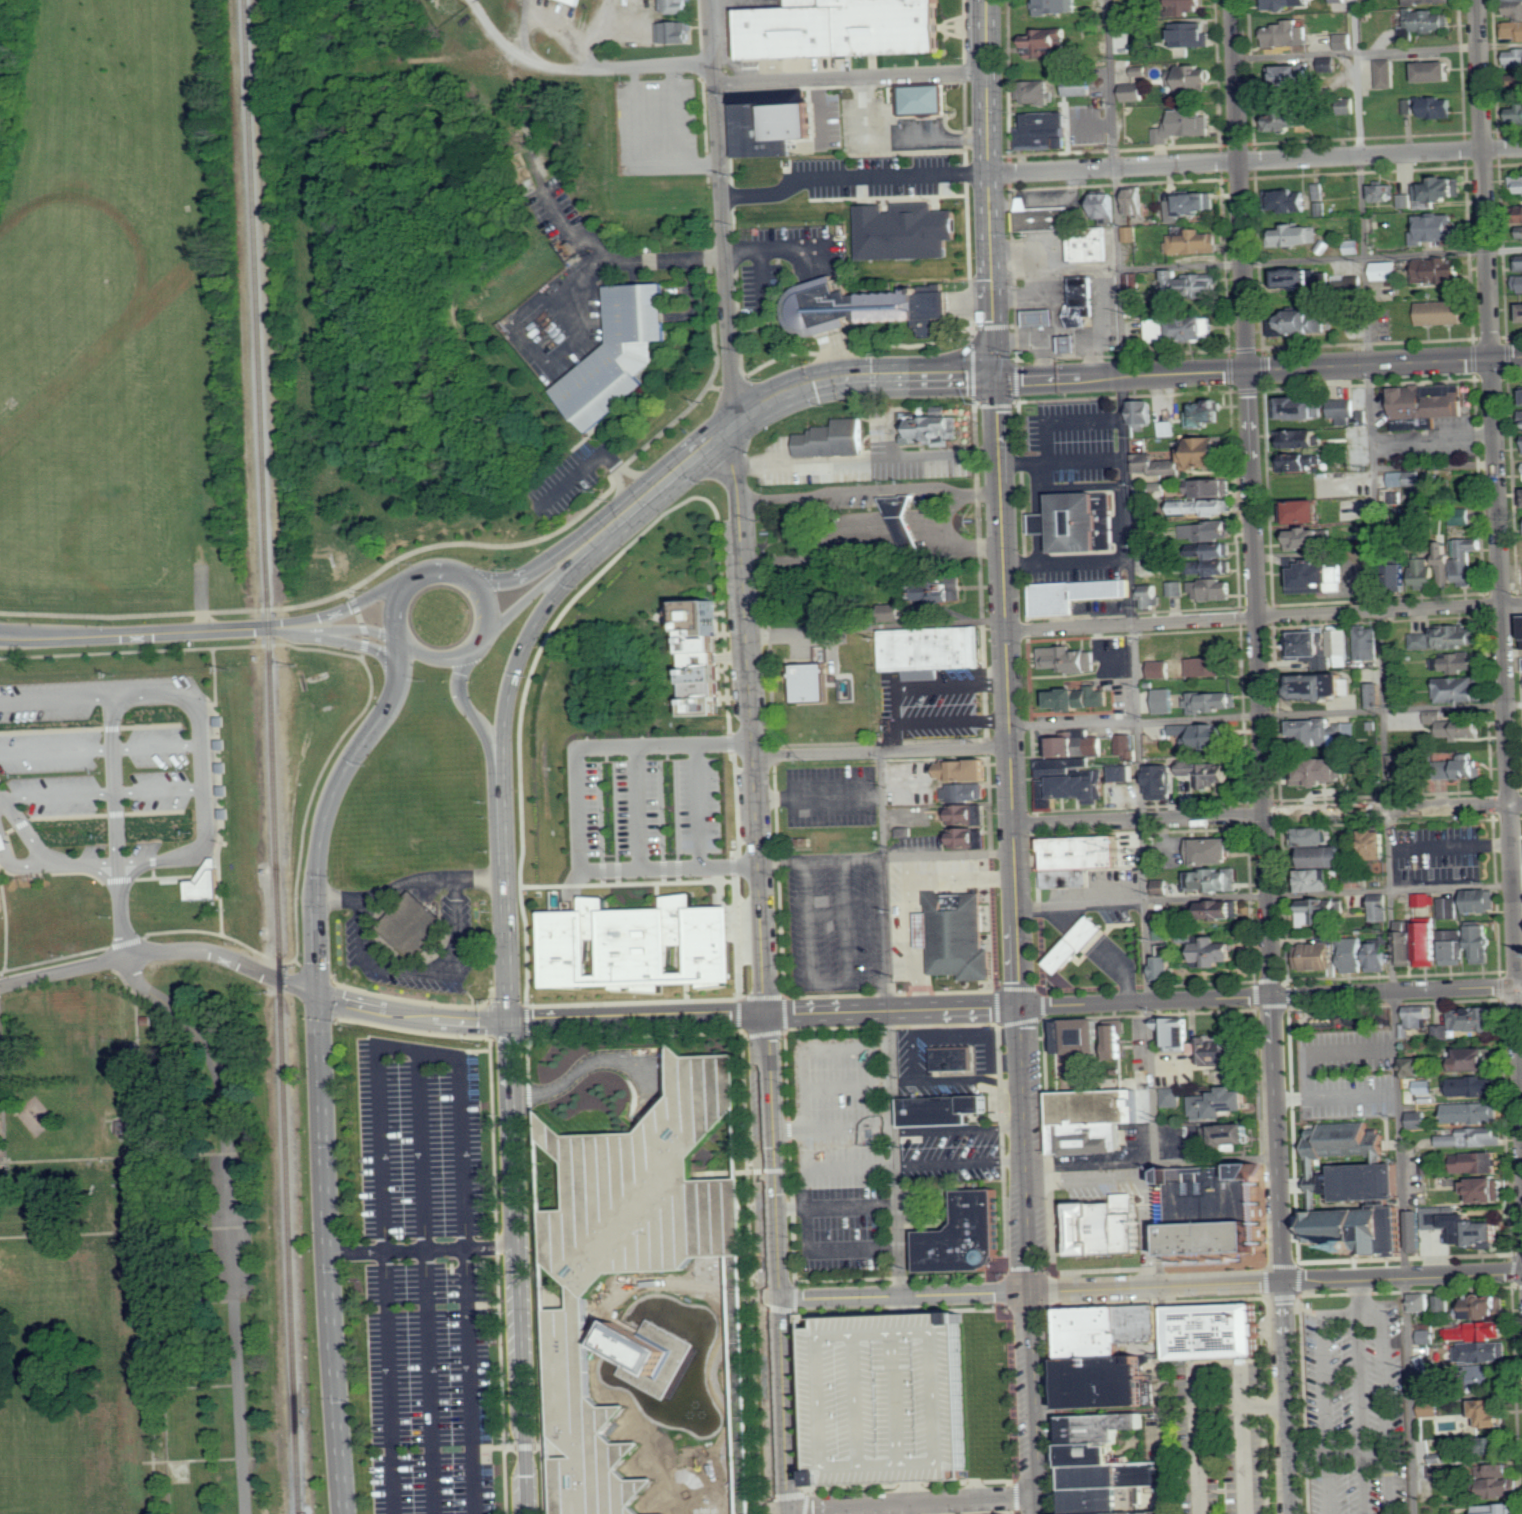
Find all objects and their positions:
building: (1508, 0)
building: (581, 1)
building: (1340, 1)
building: (1428, 1)
building: (1286, 3)
building: (676, 6)
building: (1056, 6)
building: (1187, 6)
building: (1427, 21)
building: (1514, 23)
building: (837, 29)
building: (675, 32)
building: (1192, 33)
building: (1288, 34)
road: (500, 39)
building: (1344, 41)
building: (1047, 42)
road: (1500, 44)
road: (1295, 54)
road: (536, 55)
building: (1514, 57)
road: (617, 65)
building: (1436, 70)
building: (1140, 71)
building: (1388, 73)
road: (852, 76)
building: (1291, 76)
building: (1192, 78)
building: (1518, 81)
building: (1081, 86)
building: (1035, 91)
building: (1135, 92)
building: (920, 98)
building: (1437, 106)
building: (1516, 114)
building: (1289, 119)
building: (783, 122)
building: (1185, 124)
road: (1093, 125)
building: (1044, 129)
road: (899, 139)
road: (1255, 161)
road: (854, 179)
road: (1484, 179)
building: (1518, 183)
road: (989, 190)
building: (1438, 190)
building: (1319, 191)
building: (1385, 191)
building: (1289, 199)
building: (1135, 200)
building: (1406, 200)
building: (1190, 204)
building: (1104, 207)
building: (1321, 208)
building: (1039, 216)
building: (1436, 228)
building: (904, 231)
building: (1131, 233)
building: (1296, 234)
building: (1193, 241)
building: (1085, 244)
building: (1354, 246)
road: (785, 249)
parking lot: (788, 259)
building: (1519, 261)
road: (1257, 262)
road: (635, 264)
building: (1385, 270)
building: (1440, 270)
building: (1306, 277)
building: (1133, 282)
building: (1192, 283)
building: (1519, 283)
road: (764, 284)
building: (1082, 300)
building: (859, 308)
building: (1520, 311)
park: (126, 312)
road: (712, 312)
building: (1441, 312)
building: (1044, 317)
building: (1293, 321)
building: (1180, 328)
building: (1073, 343)
building: (615, 353)
road: (1507, 358)
road: (1244, 372)
traffic signals: (996, 380)
building: (1431, 398)
road: (766, 406)
building: (1298, 408)
building: (1145, 412)
building: (1348, 412)
building: (1206, 413)
building: (930, 426)
building: (1167, 428)
building: (830, 438)
building: (1299, 438)
road: (1433, 439)
parking lot: (1073, 443)
building: (1208, 451)
road: (868, 459)
building: (1298, 461)
building: (1155, 464)
building: (1405, 478)
building: (1212, 487)
building: (1160, 488)
road: (871, 491)
road: (1253, 497)
building: (1396, 499)
road: (740, 506)
building: (1204, 506)
building: (1308, 511)
building: (1144, 513)
building: (1462, 516)
road: (948, 519)
building: (1075, 520)
building: (900, 521)
road: (875, 528)
building: (1207, 531)
building: (1307, 538)
road: (540, 539)
building: (1220, 550)
road: (874, 559)
building: (1469, 559)
road: (1003, 563)
building: (1445, 564)
building: (1212, 567)
road: (528, 570)
building: (1424, 572)
building: (1399, 574)
building: (1318, 577)
road: (412, 578)
building: (1175, 588)
building: (1212, 589)
building: (944, 590)
road: (534, 592)
building: (1069, 593)
building: (1150, 595)
road: (202, 598)
road: (352, 608)
building: (893, 612)
road: (1264, 618)
road: (360, 624)
road: (876, 625)
road: (352, 632)
road: (152, 634)
building: (1456, 637)
building: (1421, 641)
road: (1136, 642)
building: (1339, 642)
road: (478, 643)
building: (1368, 643)
building: (1308, 644)
road: (409, 647)
building: (928, 647)
road: (524, 648)
building: (695, 656)
building: (1069, 659)
building: (1456, 662)
building: (1209, 666)
building: (1161, 669)
building: (808, 681)
building: (1322, 685)
building: (1460, 689)
building: (1376, 695)
building: (1081, 697)
road: (97, 700)
building: (1165, 700)
building: (1212, 702)
road: (900, 706)
parking lot: (934, 706)
road: (468, 711)
road: (1266, 715)
building: (1457, 726)
road: (1507, 729)
building: (1324, 731)
building: (1204, 734)
road: (898, 737)
building: (1127, 745)
building: (1097, 746)
road: (99, 747)
building: (1062, 747)
road: (882, 751)
road: (1384, 756)
railway: (271, 757)
road: (347, 761)
parking lot: (100, 763)
building: (1465, 768)
building: (964, 769)
building: (1405, 771)
building: (1320, 772)
building: (1125, 773)
building: (1209, 773)
road: (321, 775)
road: (200, 776)
building: (1163, 781)
road: (113, 782)
building: (1068, 787)
road: (100, 791)
building: (965, 792)
parking lot: (832, 796)
road: (697, 803)
road: (637, 804)
parking lot: (646, 804)
road: (882, 804)
road: (576, 806)
road: (1267, 812)
building: (967, 814)
road: (503, 817)
building: (904, 832)
building: (1313, 835)
building: (967, 837)
building: (3, 841)
building: (1372, 845)
road: (1450, 847)
building: (1214, 850)
road: (949, 853)
parking lot: (1437, 854)
building: (1327, 856)
building: (1075, 857)
road: (821, 858)
road: (44, 860)
road: (157, 860)
building: (1355, 875)
road: (1015, 877)
building: (1214, 880)
building: (1316, 880)
road: (411, 881)
building: (208, 882)
building: (1161, 887)
road: (1265, 896)
building: (1425, 899)
building: (1480, 900)
building: (1380, 907)
building: (1449, 908)
building: (1221, 909)
road: (121, 910)
building: (1319, 911)
building: (1164, 917)
building: (410, 925)
parking lot: (834, 928)
road: (885, 933)
building: (955, 934)
building: (1073, 942)
building: (1404, 942)
road: (317, 943)
building: (1480, 943)
building: (631, 944)
building: (1429, 944)
building: (1452, 947)
road: (508, 949)
building: (1215, 952)
building: (1353, 955)
building: (1314, 956)
building: (1379, 957)
road: (224, 958)
road: (424, 967)
building: (1165, 967)
road: (63, 971)
road: (1395, 990)
road: (1144, 1001)
road: (953, 1009)
road: (413, 1012)
road: (826, 1012)
building: (1418, 1016)
road: (638, 1018)
building: (1473, 1020)
road: (1254, 1022)
traffic signals: (511, 1023)
building: (1170, 1029)
road: (952, 1032)
building: (1441, 1032)
road: (1006, 1036)
building: (1076, 1036)
building: (1112, 1037)
road: (202, 1043)
building: (1212, 1048)
road: (415, 1050)
road: (992, 1057)
building: (1474, 1058)
building: (951, 1059)
building: (1414, 1067)
road: (575, 1071)
road: (939, 1079)
park: (157, 1081)
road: (903, 1082)
building: (1424, 1086)
building: (1471, 1086)
building: (1169, 1095)
building: (1214, 1102)
building: (937, 1109)
building: (1473, 1112)
road: (124, 1118)
building: (1094, 1120)
building: (1418, 1120)
building: (1223, 1132)
road: (127, 1137)
building: (1475, 1137)
building: (737, 1140)
road: (4, 1142)
road: (1025, 1149)
parking lot: (846, 1152)
road: (892, 1153)
road: (131, 1155)
road: (770, 1157)
building: (1475, 1163)
building: (541, 1173)
building: (1356, 1189)
building: (1486, 1190)
building: (1209, 1210)
road: (143, 1225)
building: (1101, 1225)
parking lot: (232, 1226)
road: (233, 1226)
building: (1466, 1228)
road: (126, 1230)
building: (1417, 1232)
building: (960, 1235)
road: (422, 1249)
road: (327, 1253)
road: (1279, 1254)
building: (630, 1264)
road: (518, 1268)
parking lot: (424, 1278)
road: (1340, 1279)
road: (426, 1282)
building: (546, 1286)
road: (1096, 1288)
road: (903, 1295)
road: (1359, 1296)
road: (194, 1300)
building: (1421, 1302)
building: (1443, 1304)
building: (1485, 1308)
road: (1350, 1314)
building: (1496, 1330)
building: (1211, 1332)
building: (1427, 1337)
building: (1476, 1345)
building: (1103, 1356)
road: (1384, 1381)
road: (198, 1384)
building: (741, 1388)
building: (896, 1392)
parking lot: (896, 1392)
road: (1164, 1400)
road: (1263, 1400)
road: (1037, 1402)
road: (241, 1406)
road: (778, 1406)
parking lot: (1353, 1406)
building: (1442, 1408)
building: (1491, 1412)
road: (1324, 1414)
road: (1360, 1414)
road: (1242, 1441)
road: (1196, 1442)
building: (552, 1446)
building: (1496, 1447)
road: (1370, 1448)
road: (201, 1458)
building: (1103, 1467)
building: (1504, 1481)
road: (913, 1501)
road: (913, 1507)
building: (1498, 1508)
building: (659, 1513)

